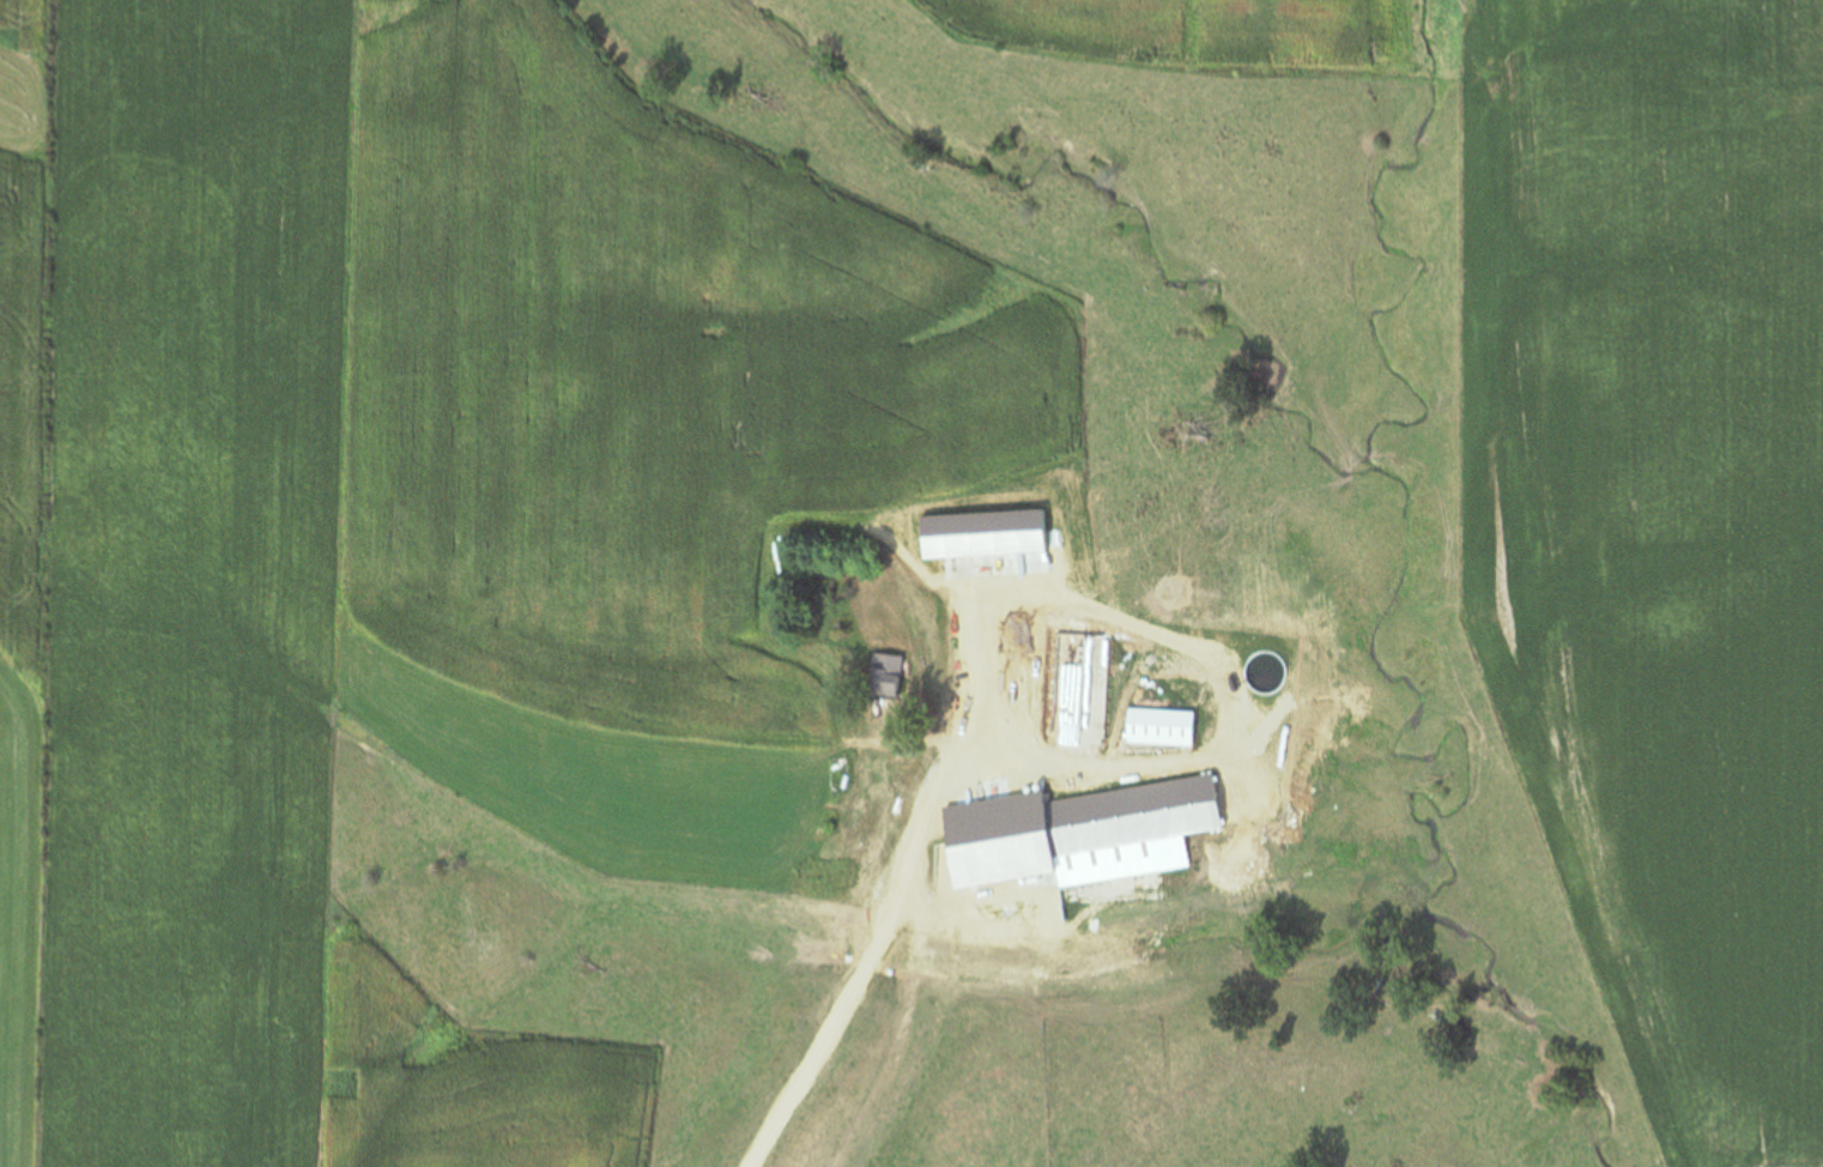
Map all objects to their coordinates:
building: (1013, 616)
building: (953, 666)
building: (883, 676)
building: (1161, 727)
building: (968, 742)
building: (1010, 756)
building: (1094, 833)
road: (915, 924)

